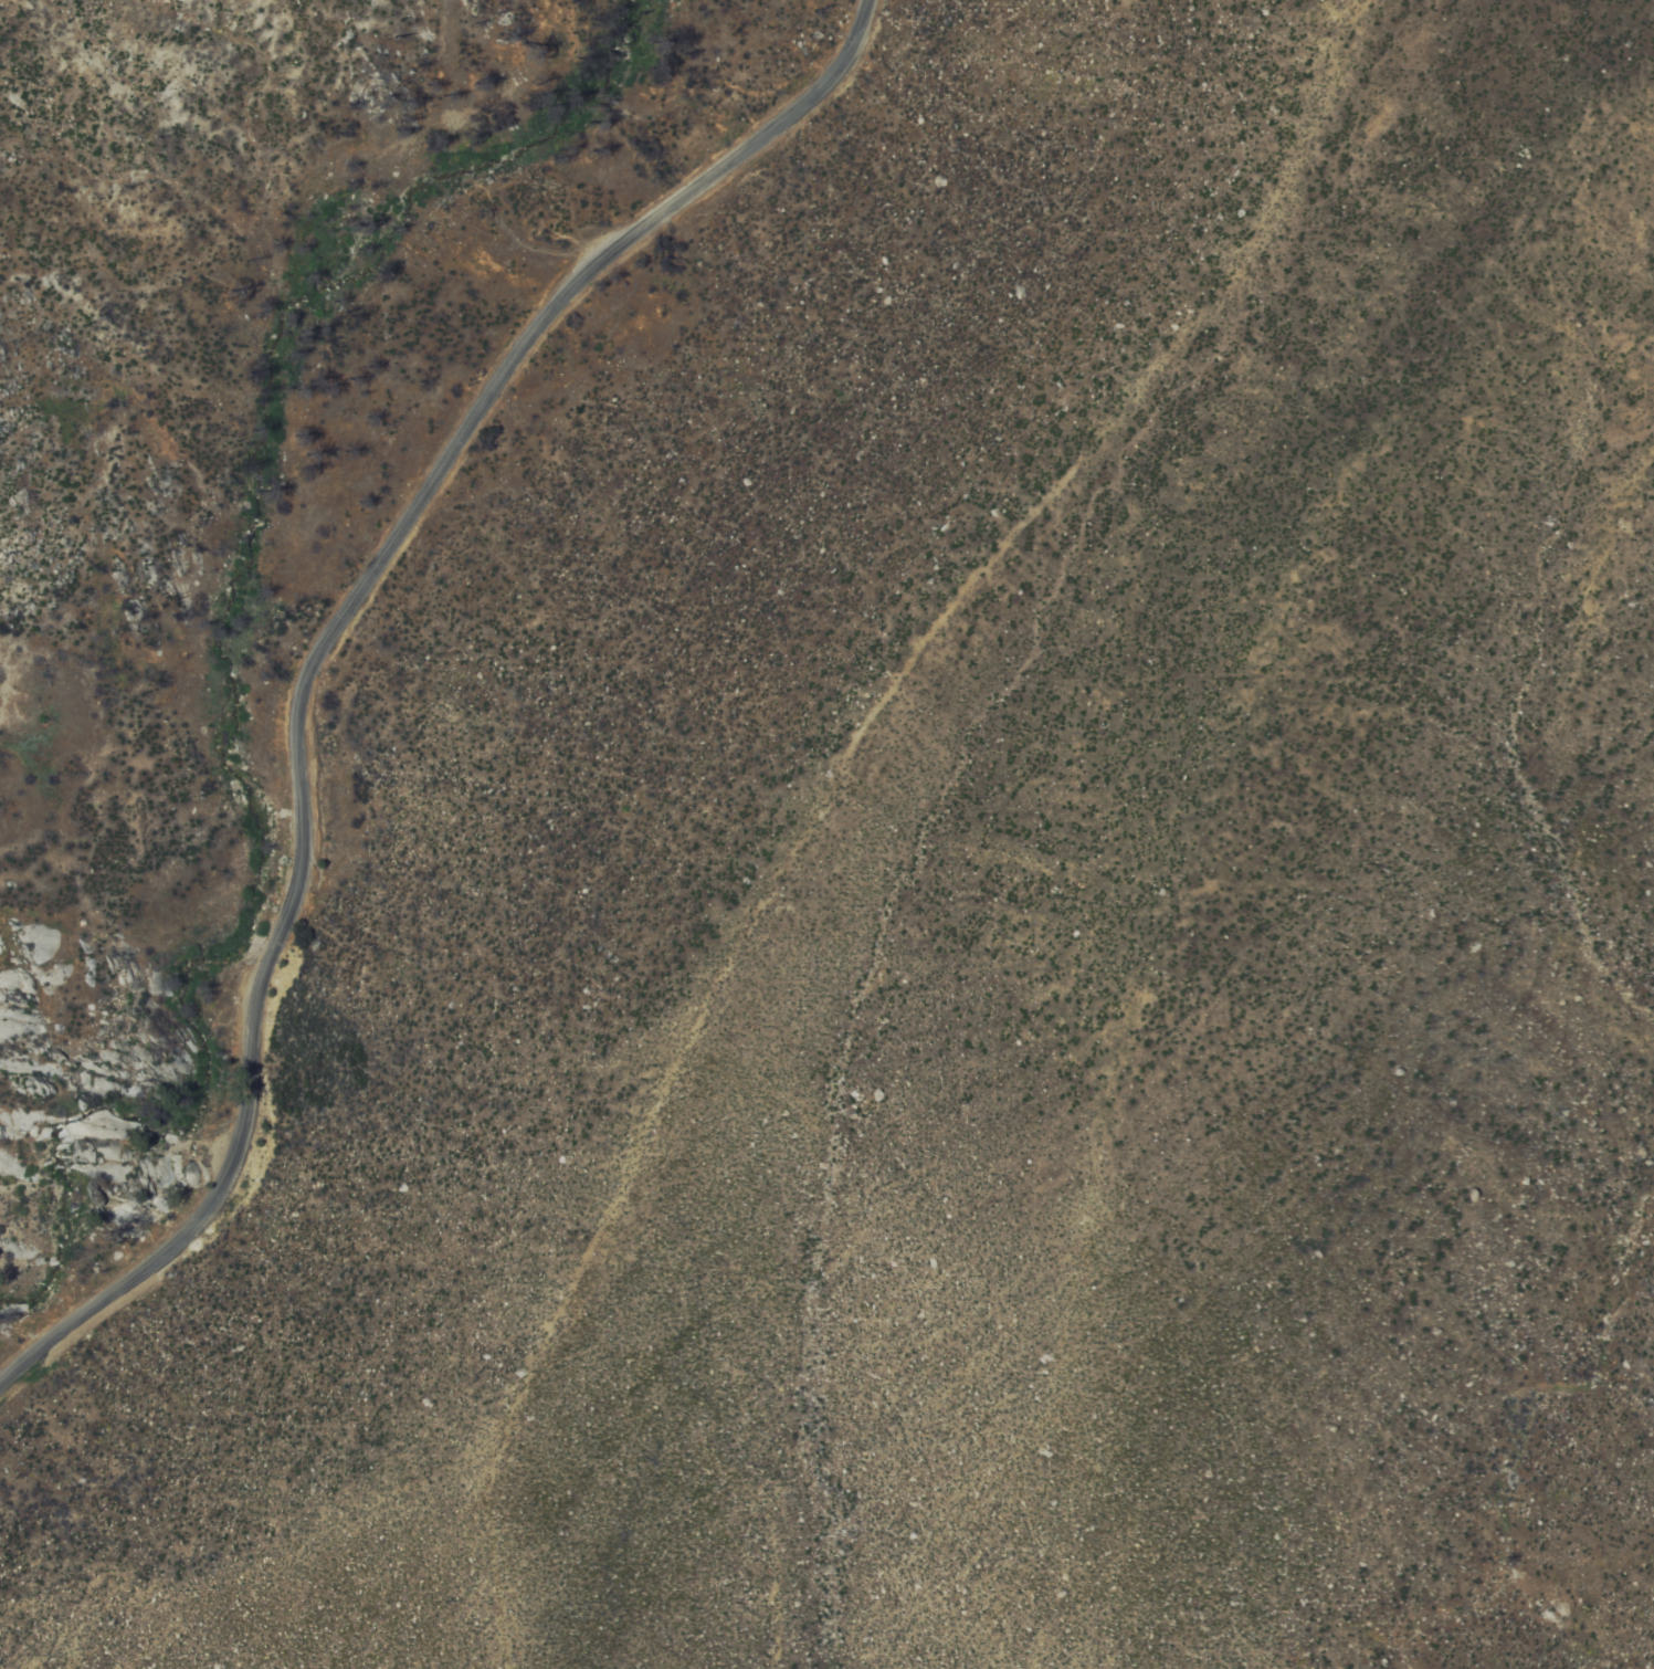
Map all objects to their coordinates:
road: (326, 648)

